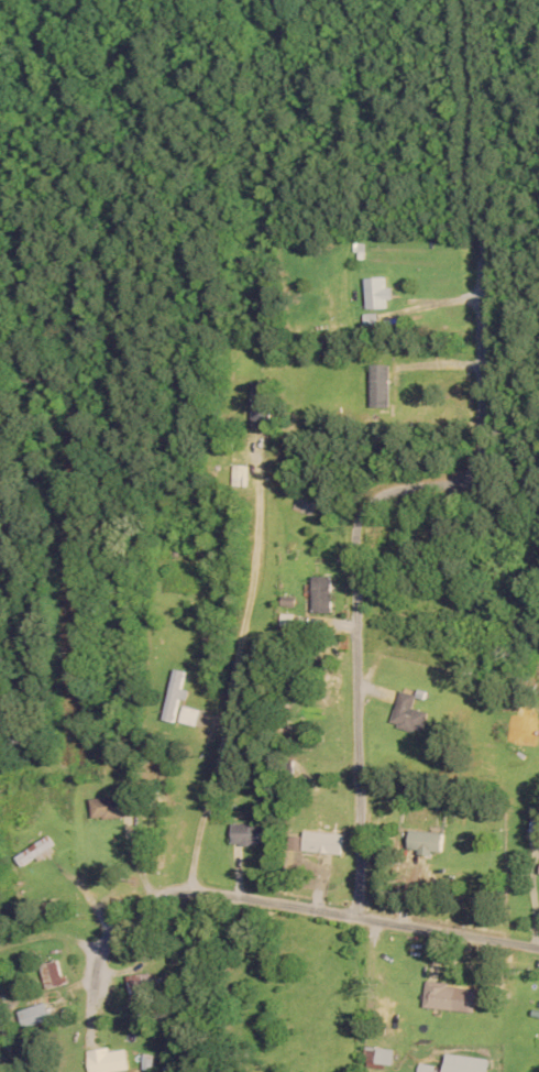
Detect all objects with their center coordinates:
building: (377, 293)
building: (36, 380)
building: (381, 386)
building: (261, 405)
building: (237, 475)
building: (322, 593)
building: (174, 694)
road: (258, 713)
building: (410, 713)
road: (462, 730)
road: (151, 794)
building: (111, 807)
building: (535, 824)
building: (251, 833)
building: (322, 842)
building: (426, 842)
building: (36, 851)
road: (295, 923)
road: (43, 930)
building: (54, 973)
building: (449, 997)
building: (35, 1015)
building: (380, 1057)
building: (110, 1060)
building: (465, 1063)
building: (44, 1070)

